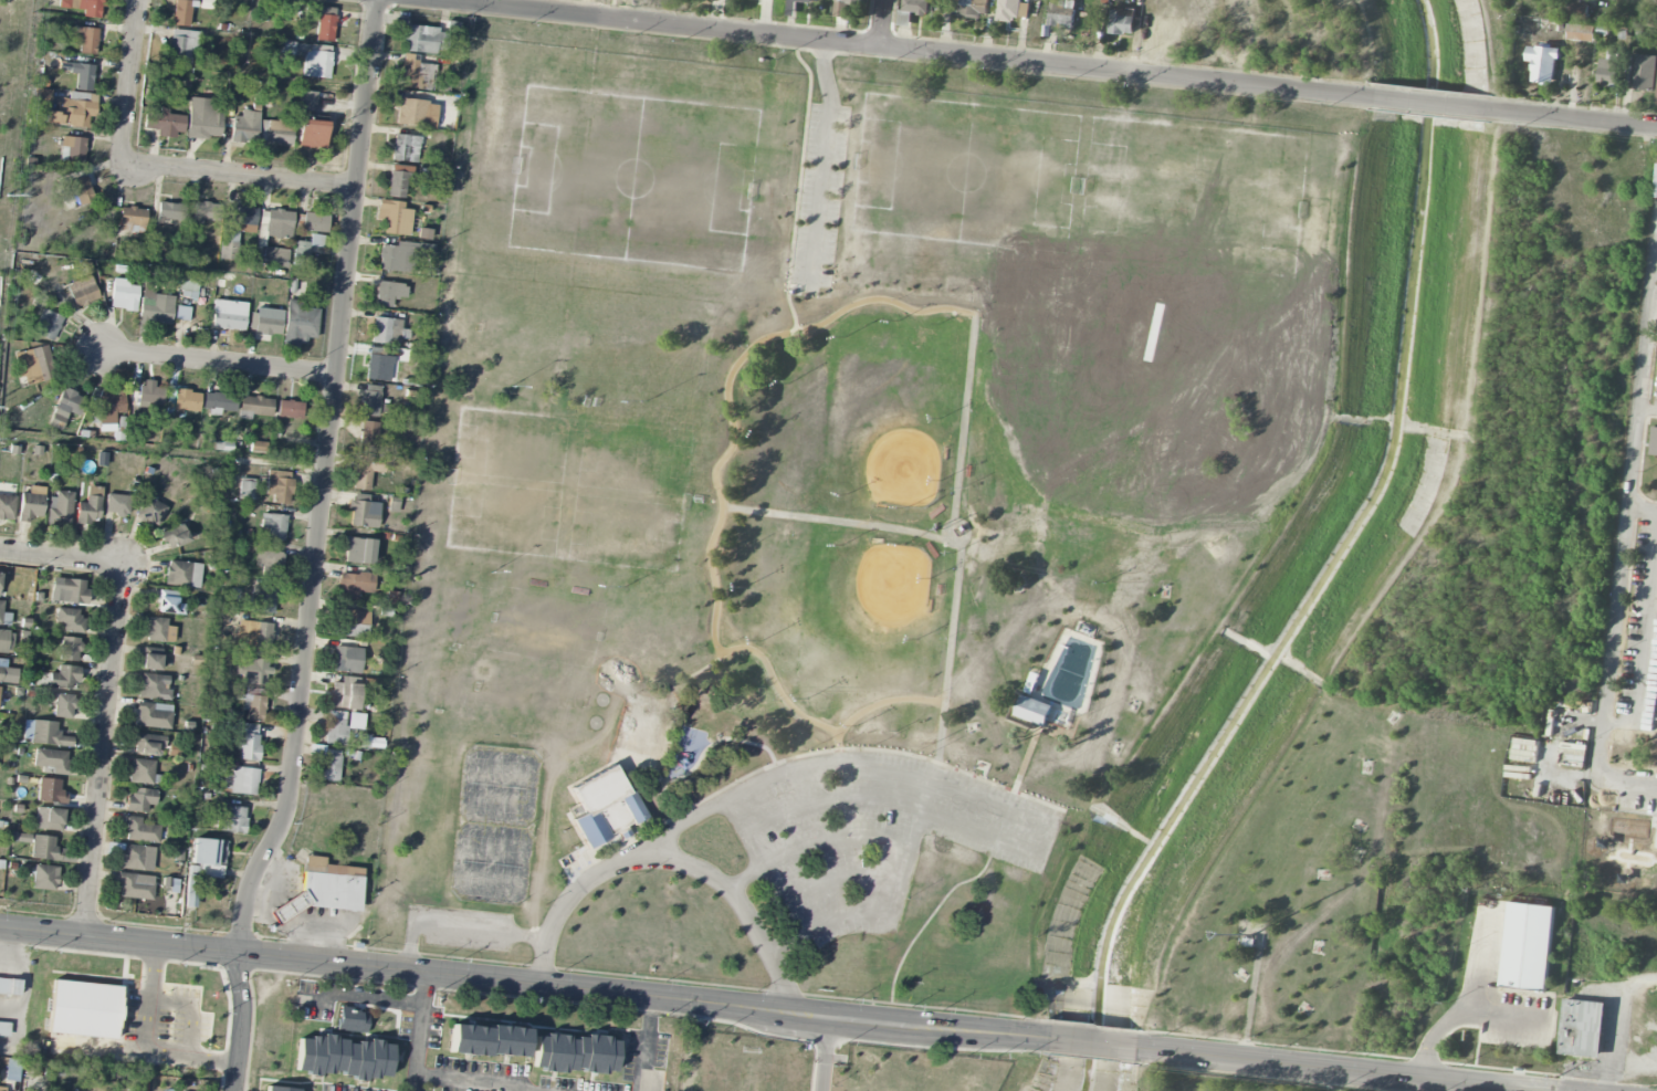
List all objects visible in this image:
building: (820, 0)
building: (915, 6)
building: (83, 7)
building: (845, 7)
building: (791, 8)
building: (974, 8)
building: (1011, 10)
building: (1577, 10)
building: (181, 13)
building: (1061, 14)
building: (1122, 20)
road: (884, 23)
building: (324, 24)
building: (1580, 32)
building: (422, 39)
building: (87, 41)
building: (181, 45)
road: (893, 49)
building: (317, 61)
building: (1542, 64)
building: (1607, 70)
building: (1643, 72)
building: (416, 73)
building: (82, 76)
road: (129, 84)
building: (1656, 97)
building: (41, 98)
building: (306, 102)
road: (1430, 103)
building: (73, 111)
building: (411, 113)
road: (1571, 116)
building: (203, 119)
building: (164, 122)
building: (245, 127)
building: (279, 132)
building: (312, 134)
building: (74, 148)
building: (405, 148)
road: (824, 159)
park: (965, 172)
road: (239, 178)
park: (631, 179)
building: (398, 180)
road: (798, 183)
building: (82, 190)
power tower: (7, 195)
parking lot: (818, 195)
park: (1193, 198)
building: (170, 211)
building: (394, 217)
building: (132, 218)
building: (242, 219)
building: (315, 222)
building: (276, 223)
building: (229, 244)
building: (307, 245)
road: (1656, 251)
building: (275, 256)
building: (188, 287)
building: (82, 292)
building: (388, 293)
building: (124, 295)
building: (157, 306)
road: (845, 307)
building: (182, 314)
building: (229, 315)
building: (266, 321)
building: (298, 324)
building: (48, 325)
building: (386, 331)
road: (218, 364)
building: (33, 365)
building: (378, 368)
building: (149, 395)
building: (369, 400)
building: (219, 401)
building: (185, 402)
building: (67, 406)
building: (254, 407)
road: (1647, 407)
building: (111, 409)
building: (290, 409)
park: (857, 417)
building: (367, 436)
building: (1654, 441)
building: (258, 447)
building: (366, 471)
road: (324, 480)
building: (279, 486)
building: (245, 489)
park: (570, 490)
building: (31, 504)
building: (117, 505)
building: (7, 507)
building: (90, 507)
building: (60, 508)
building: (149, 512)
building: (364, 512)
building: (274, 526)
park: (997, 533)
road: (1623, 535)
building: (174, 536)
building: (358, 550)
road: (63, 558)
building: (269, 564)
building: (182, 574)
building: (0, 579)
building: (355, 585)
building: (69, 590)
building: (262, 599)
building: (168, 602)
park: (849, 602)
building: (3, 616)
road: (1644, 616)
building: (70, 619)
building: (354, 623)
building: (158, 630)
building: (254, 634)
building: (6, 641)
road: (950, 642)
building: (70, 649)
building: (347, 660)
building: (150, 662)
building: (254, 671)
building: (8, 674)
building: (64, 678)
building: (154, 688)
building: (345, 693)
road: (878, 702)
building: (255, 704)
building: (64, 705)
building: (1034, 710)
road: (626, 714)
building: (154, 715)
park: (641, 723)
building: (335, 727)
building: (43, 733)
building: (249, 742)
building: (148, 743)
road: (709, 743)
road: (104, 751)
road: (654, 751)
road: (811, 754)
building: (51, 759)
building: (329, 765)
building: (140, 772)
building: (241, 781)
building: (50, 791)
building: (140, 800)
road: (892, 804)
building: (602, 807)
road: (992, 807)
road: (921, 814)
building: (49, 819)
building: (230, 819)
park: (494, 824)
building: (139, 830)
parking lot: (871, 833)
road: (833, 838)
building: (48, 850)
building: (137, 858)
road: (667, 858)
building: (204, 866)
road: (978, 873)
road: (744, 877)
road: (839, 877)
building: (44, 878)
building: (135, 887)
building: (331, 890)
building: (289, 906)
road: (455, 927)
parking lot: (459, 927)
building: (1248, 941)
building: (1527, 946)
road: (1486, 954)
road: (523, 982)
building: (9, 987)
road: (366, 997)
building: (84, 1009)
road: (1462, 1011)
road: (244, 1020)
building: (352, 1020)
road: (1617, 1020)
building: (4, 1028)
building: (1582, 1028)
road: (418, 1031)
building: (487, 1041)
road: (148, 1042)
road: (1092, 1042)
road: (648, 1043)
road: (825, 1052)
building: (574, 1053)
building: (343, 1058)
road: (1339, 1069)
road: (466, 1083)
building: (3, 1089)
building: (279, 1089)

